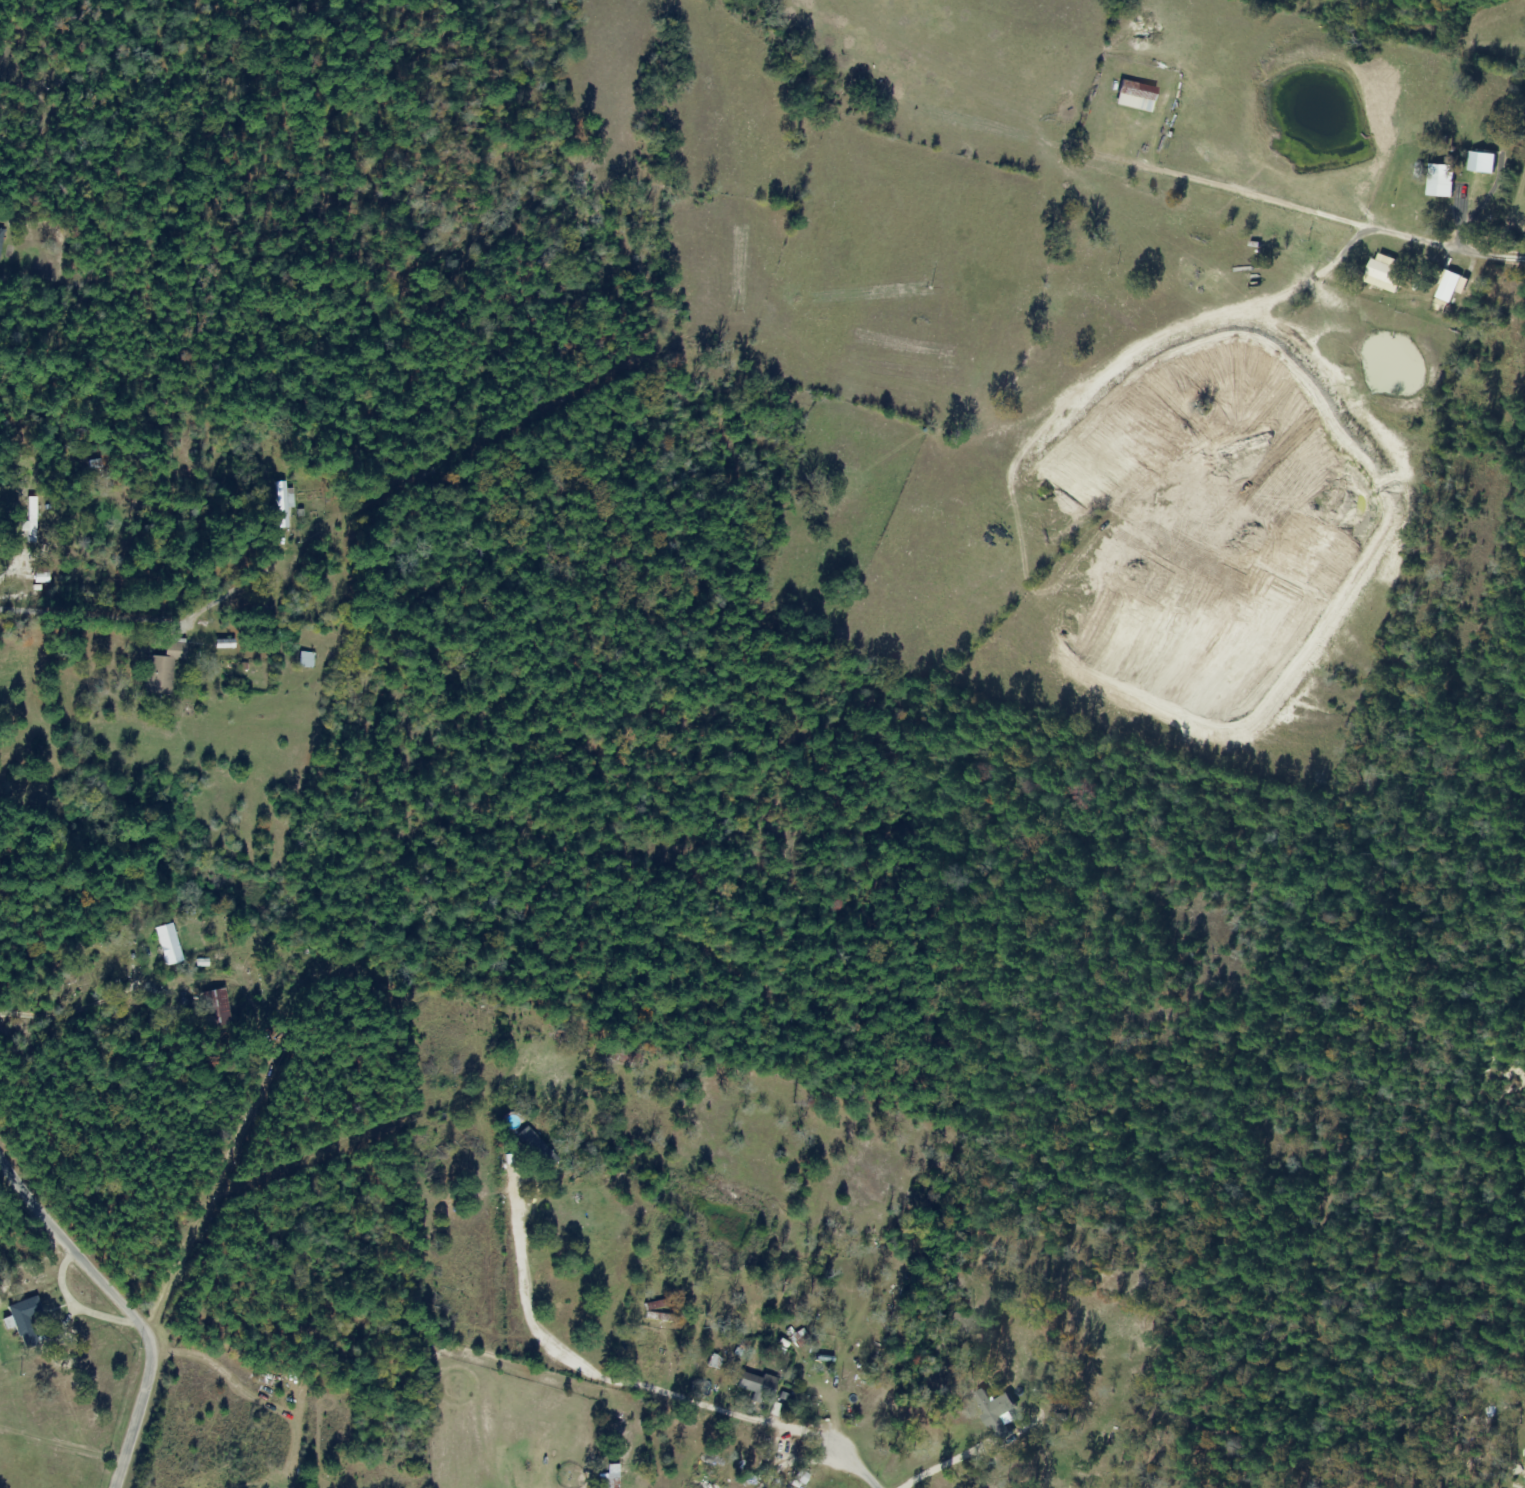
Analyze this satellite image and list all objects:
building: (1135, 89)
building: (1, 235)
road: (1486, 252)
building: (281, 505)
building: (30, 520)
building: (38, 577)
road: (39, 584)
building: (304, 659)
building: (161, 669)
building: (167, 942)
building: (214, 1007)
building: (534, 1148)
road: (122, 1304)
building: (656, 1311)
building: (24, 1320)
road: (653, 1390)
building: (995, 1413)
road: (970, 1452)
building: (1523, 1465)
building: (608, 1477)

